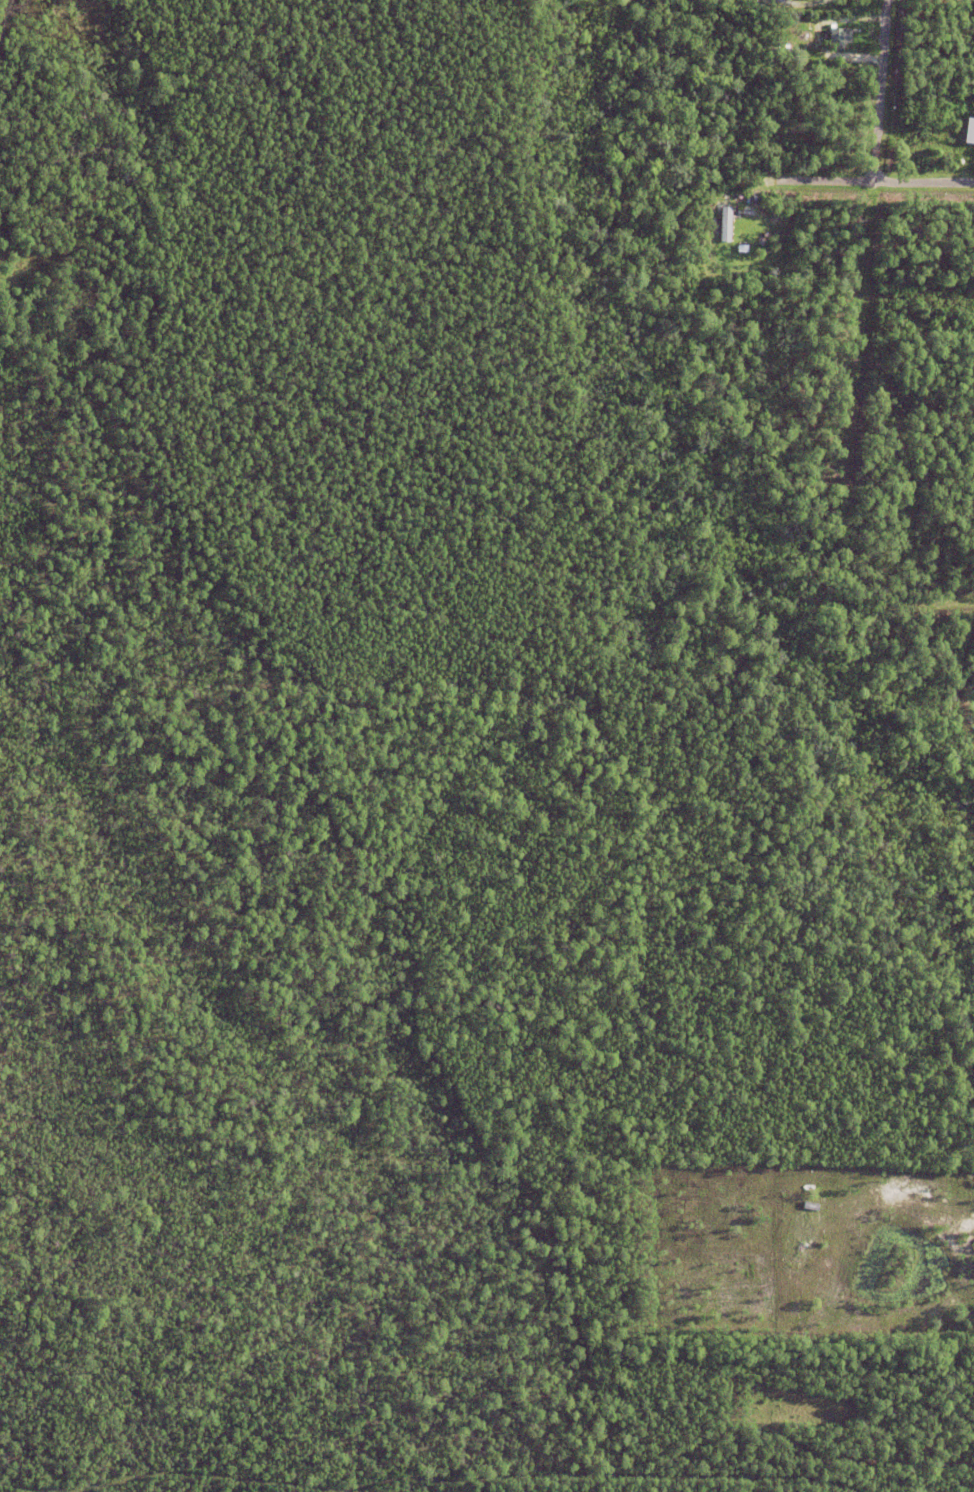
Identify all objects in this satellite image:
building: (838, 41)
building: (968, 136)
road: (867, 182)
building: (754, 202)
building: (725, 227)
building: (783, 242)
building: (736, 252)
road: (867, 253)
road: (947, 597)
building: (792, 1191)
building: (793, 1206)
building: (810, 1206)
building: (801, 1242)

